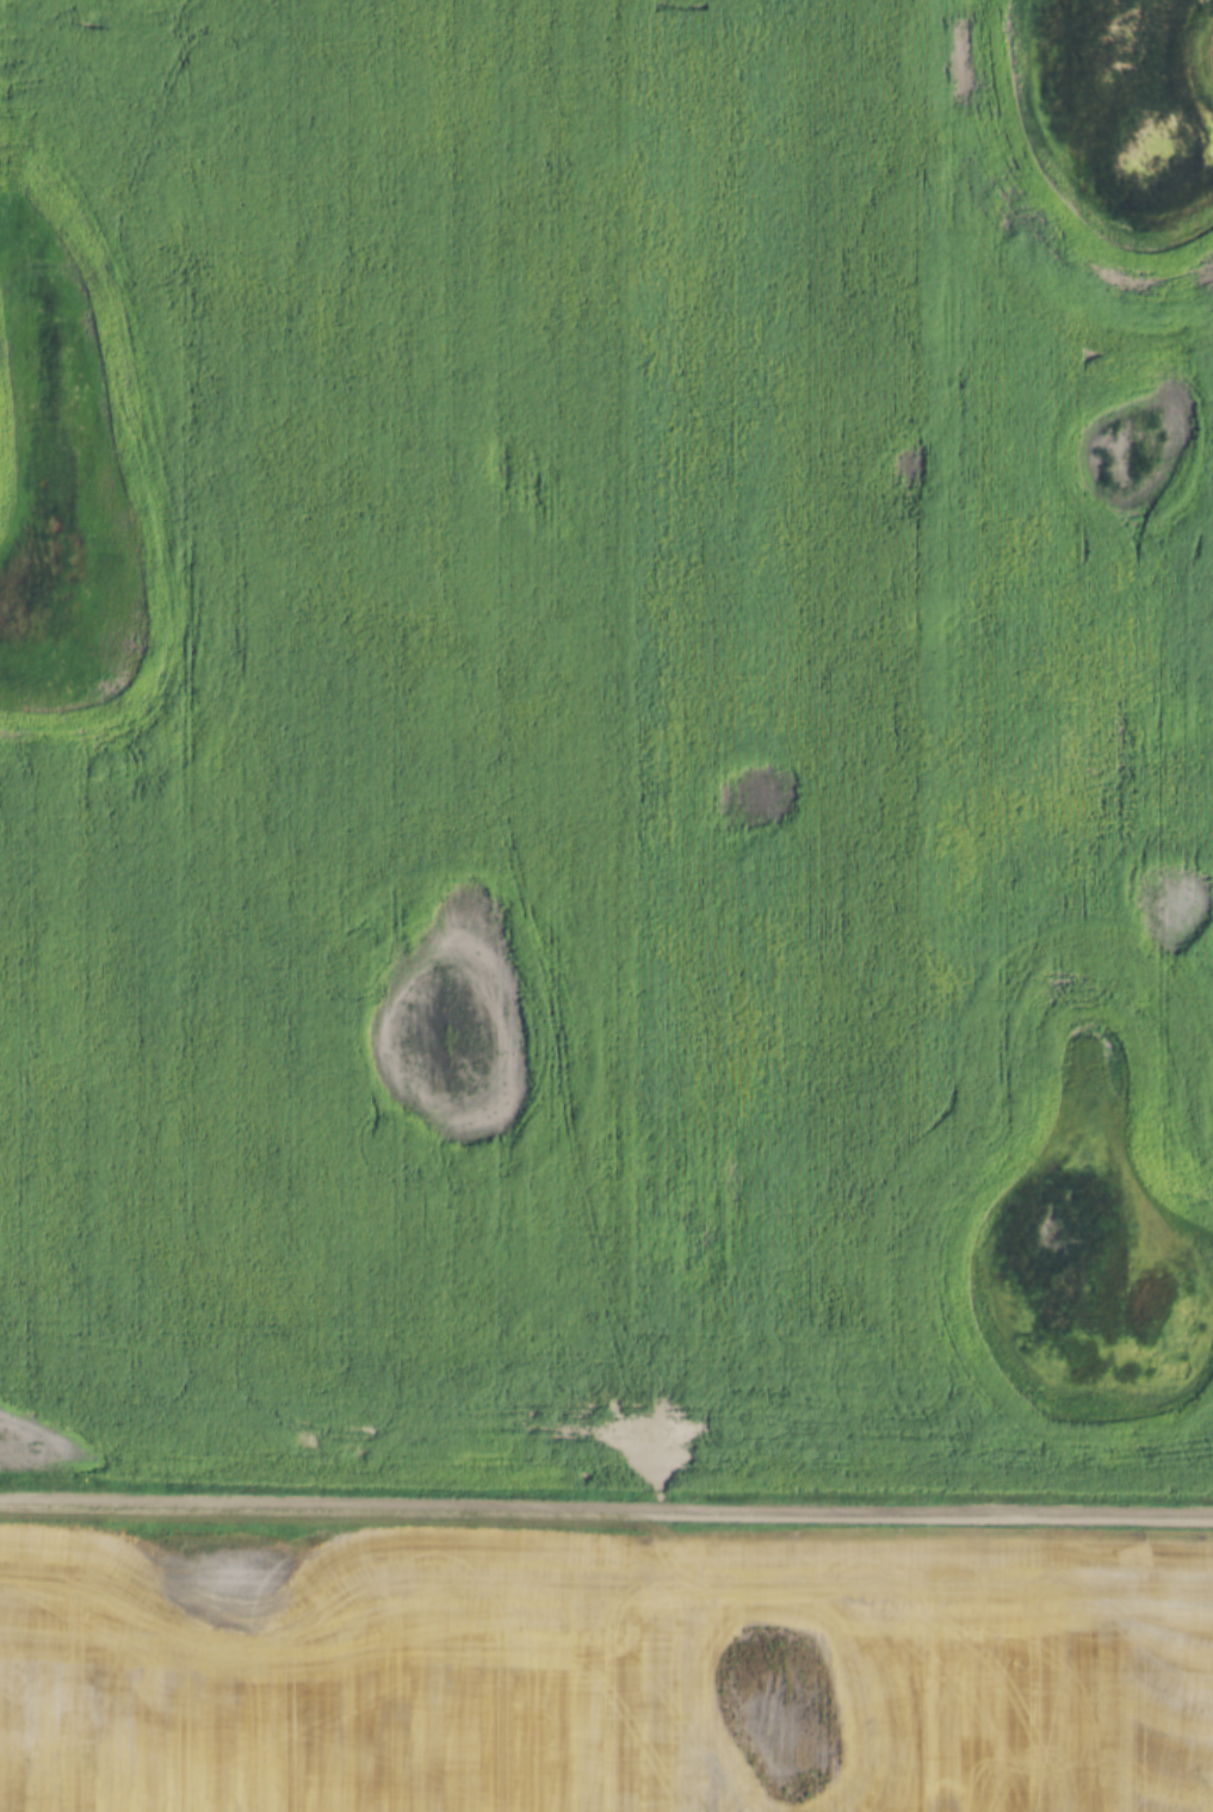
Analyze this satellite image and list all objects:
road: (606, 1513)

